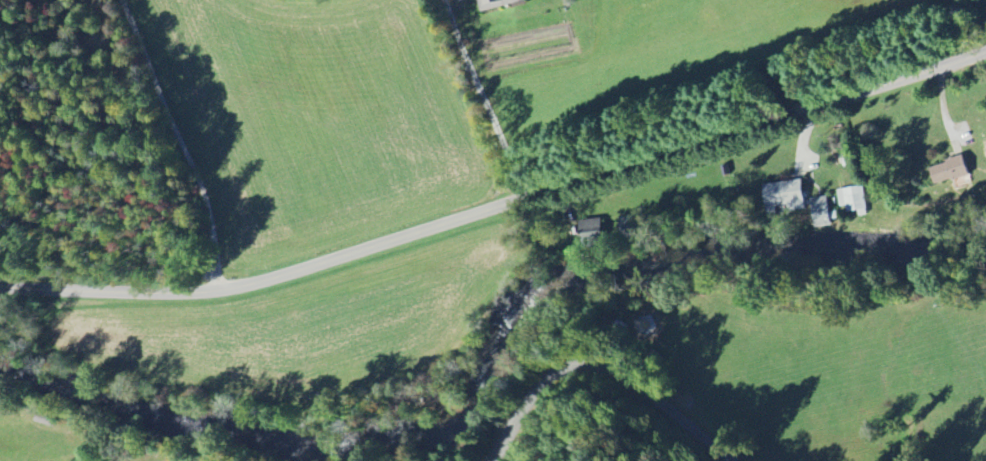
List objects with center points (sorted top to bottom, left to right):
building: (499, 4)
road: (487, 97)
road: (940, 104)
road: (192, 138)
building: (949, 172)
building: (784, 198)
building: (852, 200)
road: (498, 205)
building: (821, 213)
building: (591, 233)
river: (769, 262)
road: (610, 355)
river: (450, 408)
river: (150, 420)

